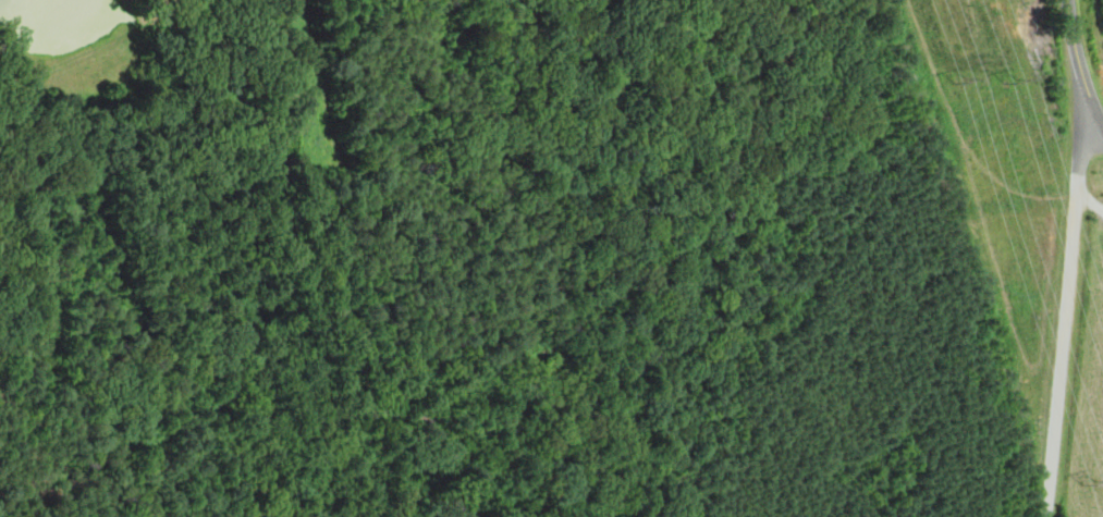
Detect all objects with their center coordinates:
road: (1080, 62)
power tower: (1009, 75)
power tower: (964, 82)
road: (1067, 310)
power tower: (1089, 483)

